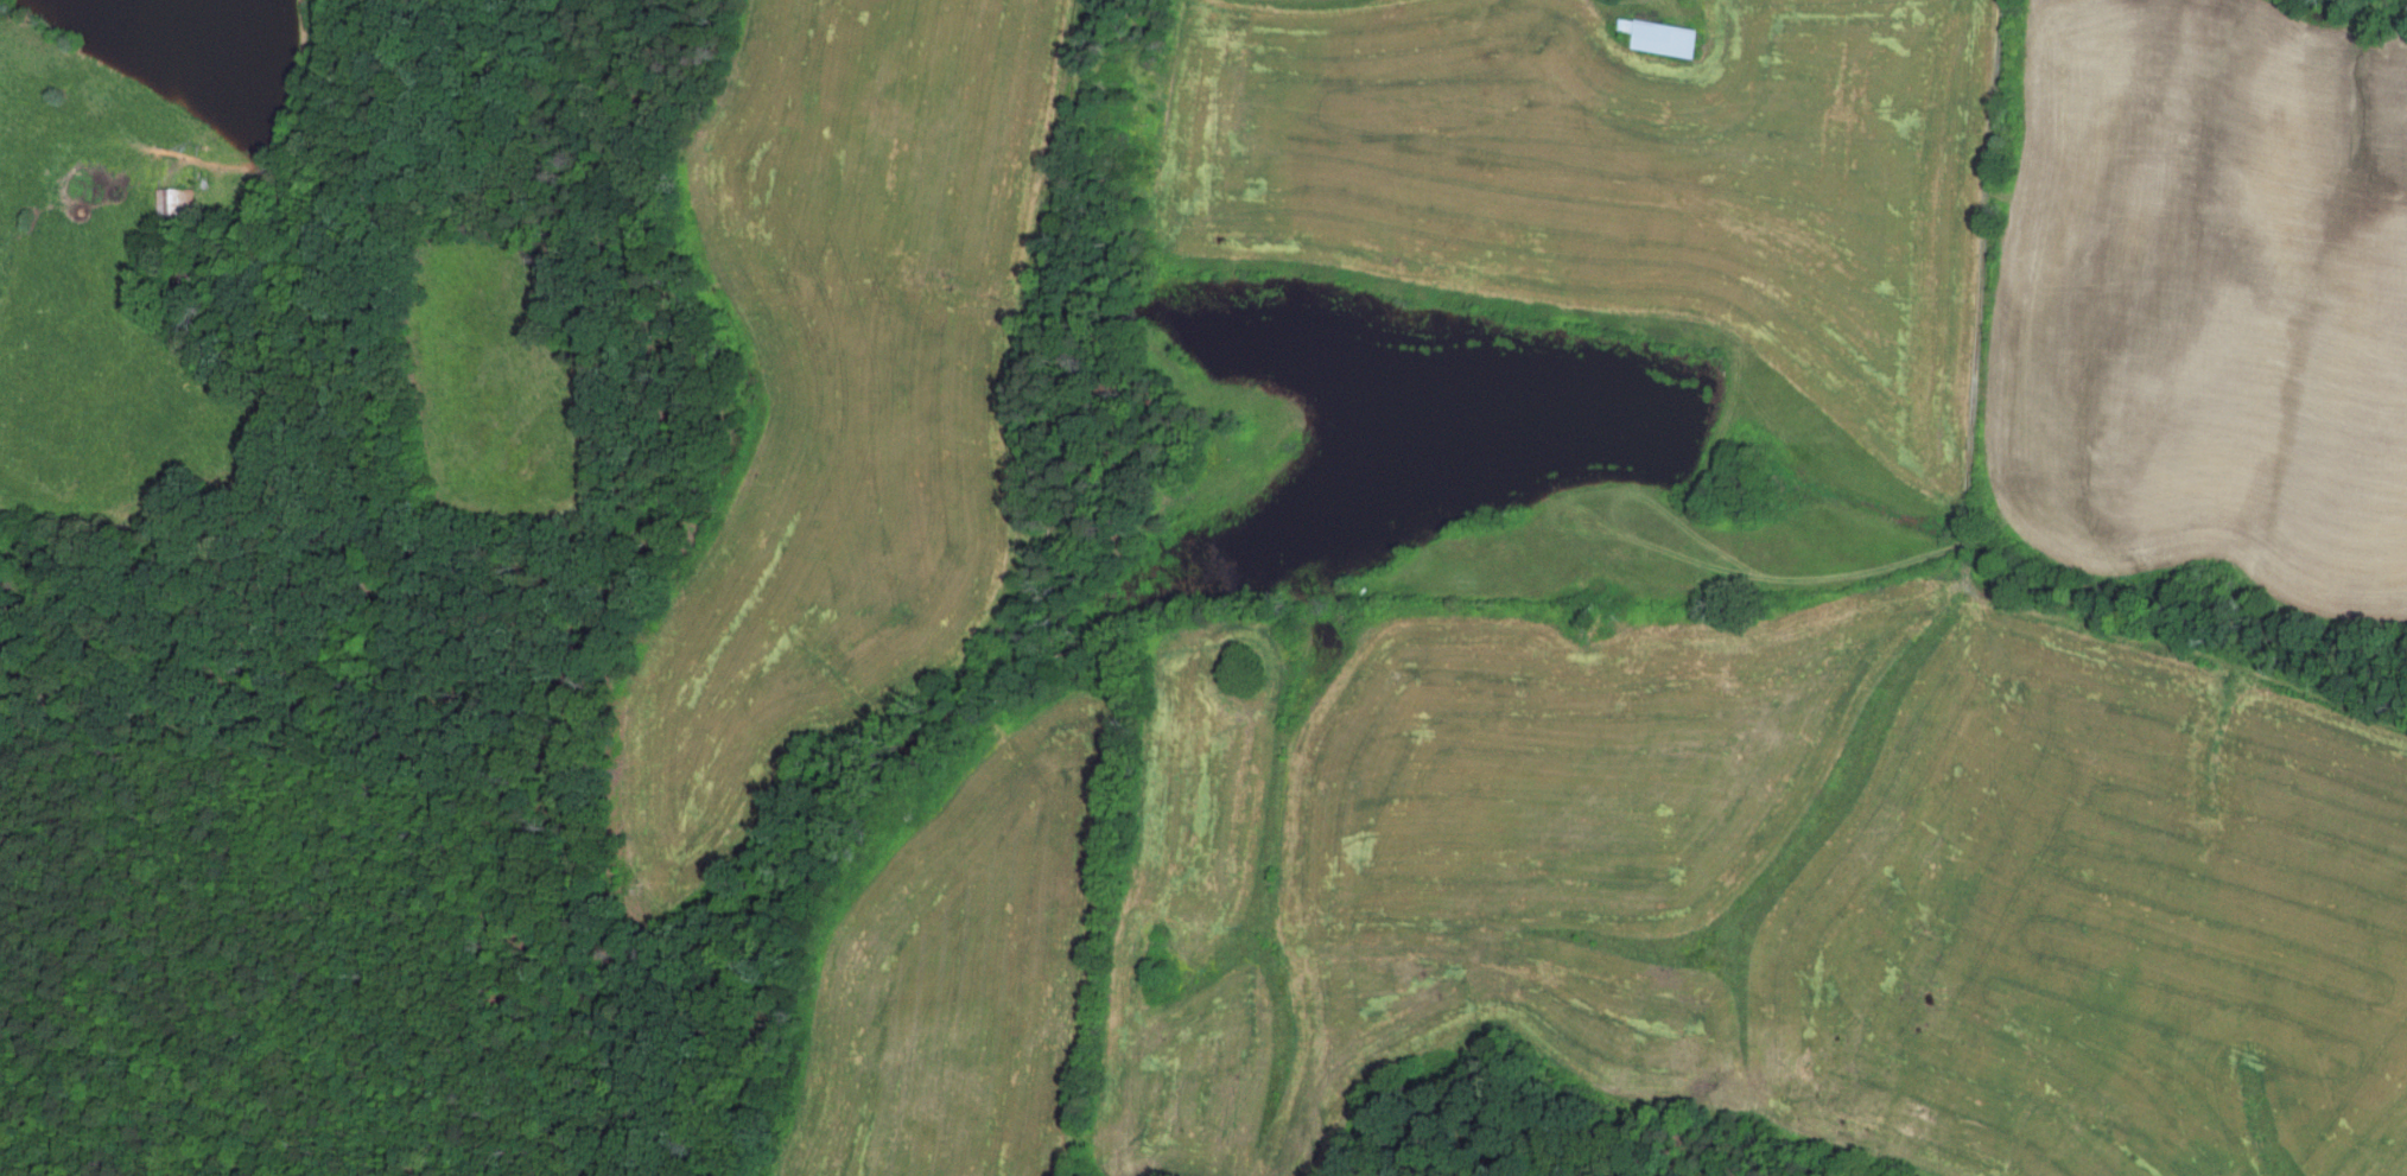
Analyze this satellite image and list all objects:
building: (1657, 36)
building: (172, 201)
road: (1965, 523)

